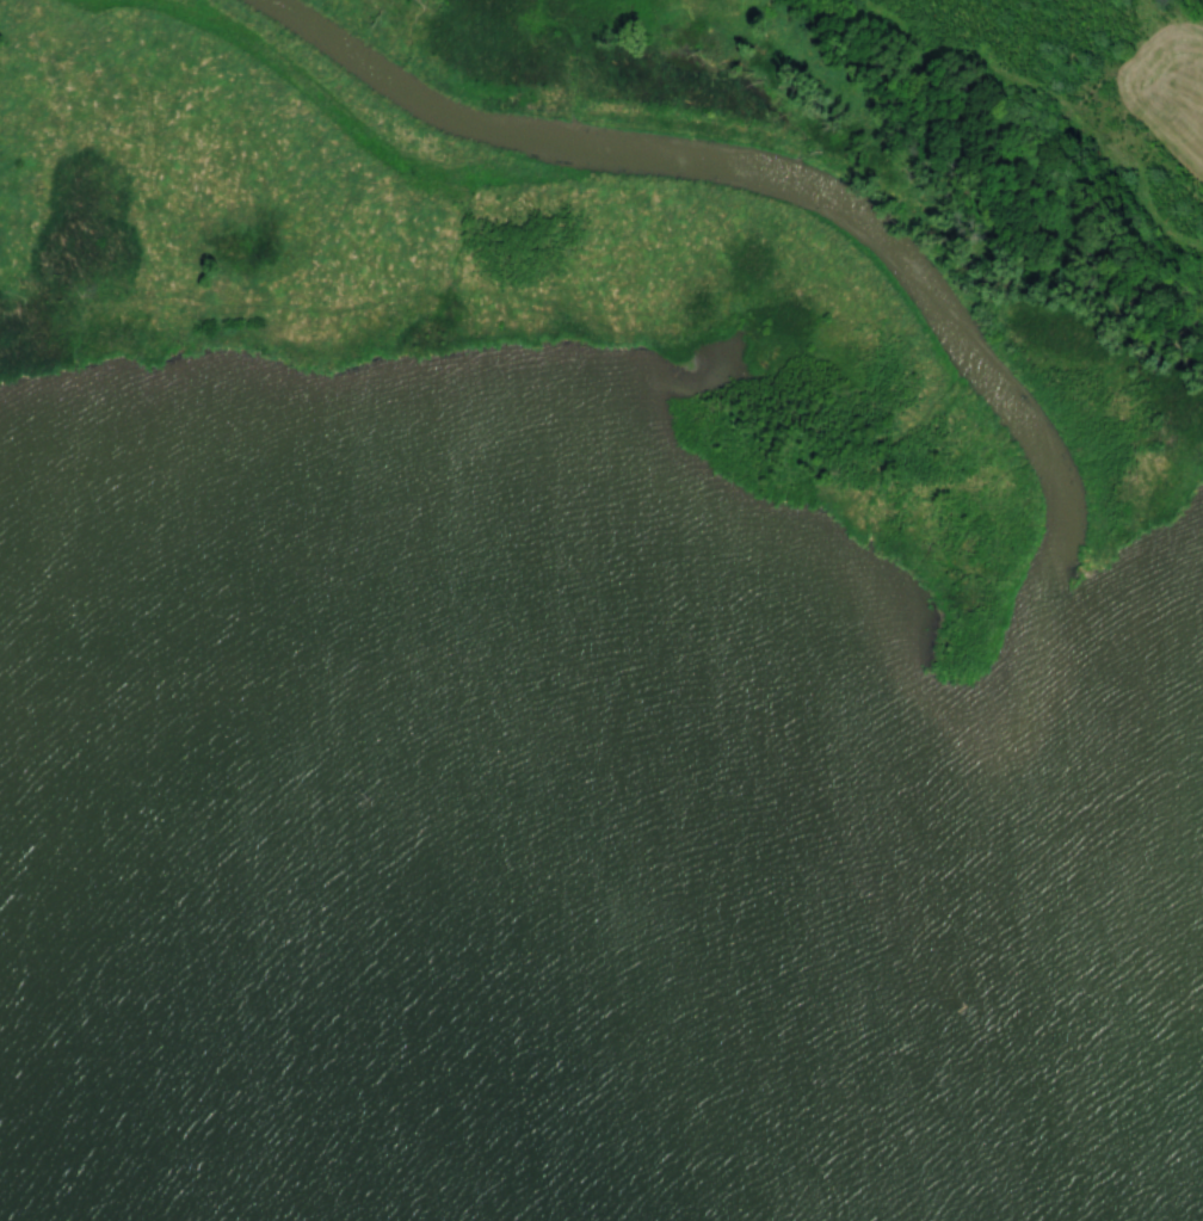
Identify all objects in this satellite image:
river: (1005, 393)
park: (670, 1097)

